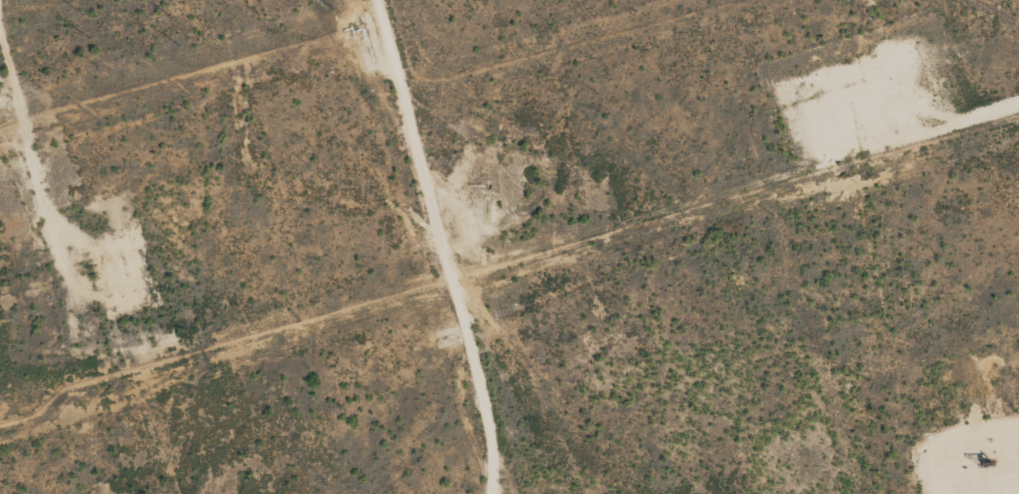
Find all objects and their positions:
road: (440, 246)
petroleum well: (983, 472)

